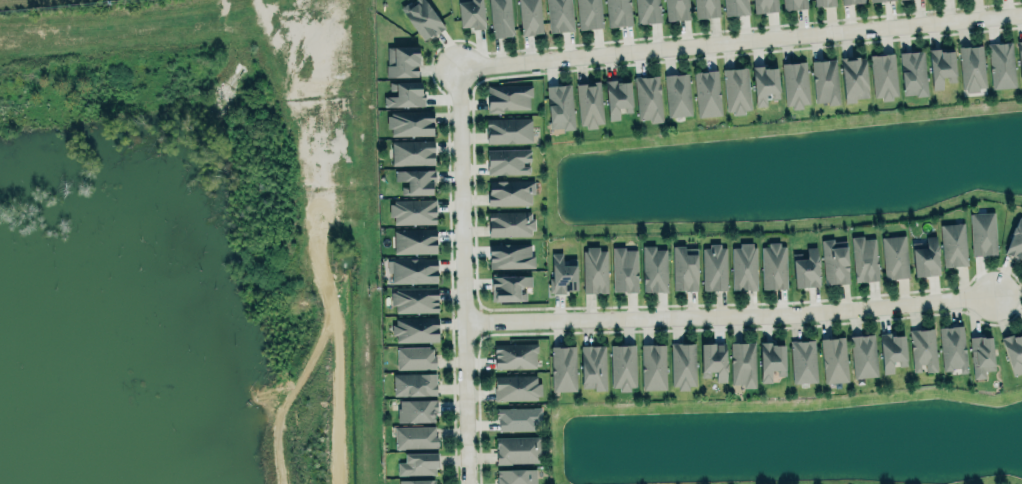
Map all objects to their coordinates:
building: (876, 0)
building: (825, 1)
building: (851, 1)
building: (794, 4)
building: (764, 5)
building: (735, 6)
building: (706, 7)
building: (677, 9)
building: (647, 10)
building: (471, 12)
building: (619, 12)
building: (589, 13)
building: (560, 14)
building: (530, 16)
building: (423, 17)
building: (501, 17)
road: (742, 38)
building: (1019, 59)
building: (401, 61)
building: (1001, 63)
road: (288, 64)
building: (941, 67)
building: (971, 67)
building: (913, 71)
building: (883, 75)
building: (853, 76)
building: (825, 80)
building: (796, 82)
building: (764, 84)
building: (736, 88)
building: (405, 93)
building: (707, 93)
building: (677, 94)
building: (617, 95)
building: (649, 96)
building: (508, 97)
building: (589, 102)
building: (559, 106)
building: (410, 123)
building: (509, 128)
building: (412, 152)
building: (508, 161)
building: (416, 181)
building: (510, 190)
building: (413, 210)
building: (510, 222)
building: (982, 230)
building: (1015, 237)
building: (415, 240)
building: (953, 242)
building: (510, 255)
building: (894, 255)
building: (925, 256)
building: (864, 257)
building: (835, 259)
building: (773, 264)
building: (714, 265)
building: (744, 265)
building: (624, 267)
building: (653, 267)
building: (806, 267)
building: (594, 268)
building: (684, 268)
building: (413, 269)
building: (563, 271)
road: (466, 276)
building: (509, 285)
building: (415, 298)
road: (730, 313)
building: (416, 329)
building: (952, 348)
building: (892, 349)
building: (922, 349)
building: (1013, 352)
building: (863, 353)
building: (980, 353)
building: (515, 355)
building: (415, 356)
building: (771, 358)
building: (833, 358)
building: (713, 359)
building: (802, 360)
building: (742, 362)
building: (683, 363)
building: (593, 365)
building: (652, 365)
building: (622, 366)
building: (563, 368)
building: (414, 382)
building: (516, 386)
building: (416, 410)
building: (518, 417)
building: (416, 435)
building: (517, 449)
building: (418, 461)
building: (516, 476)
building: (416, 480)

